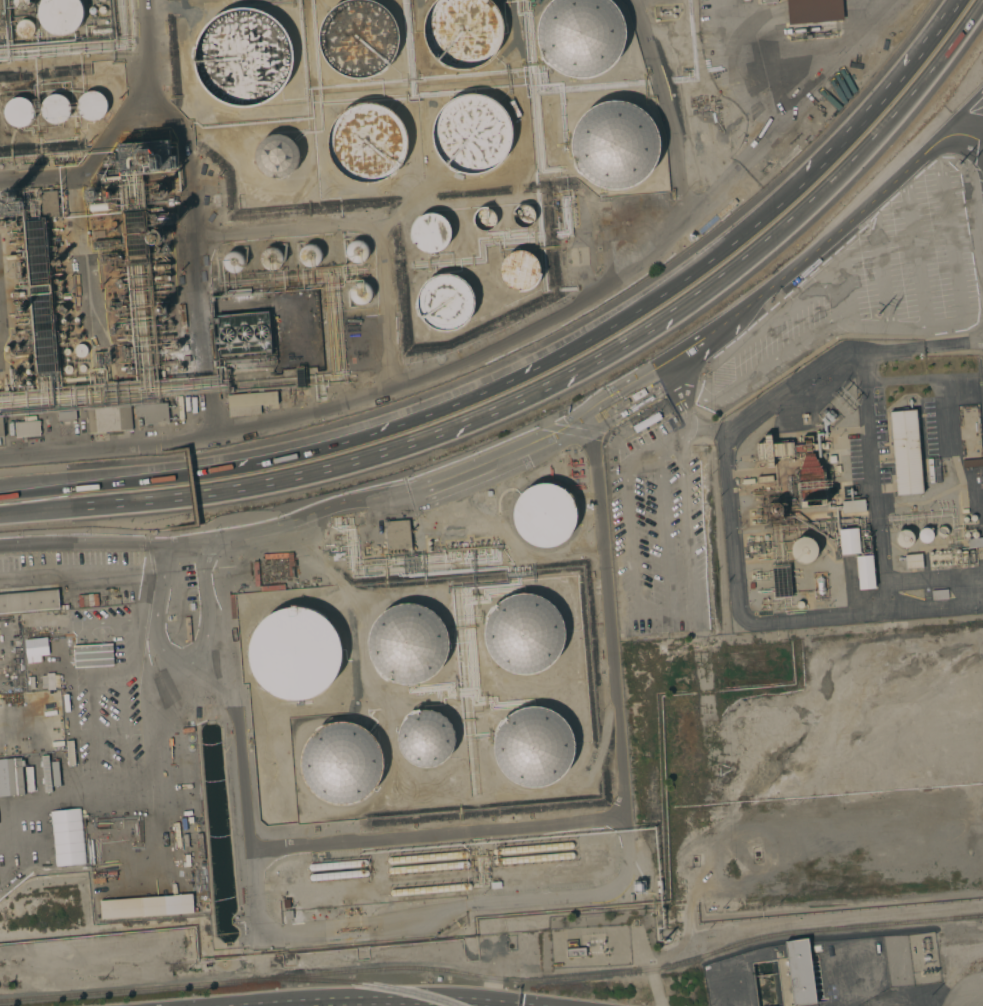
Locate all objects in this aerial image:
building: (101, 0)
building: (767, 1)
building: (21, 3)
storage tank: (21, 3)
building: (101, 9)
storage tank: (101, 9)
building: (92, 10)
storage tank: (92, 10)
building: (813, 11)
building: (60, 15)
storage tank: (60, 15)
building: (24, 28)
storage tank: (24, 28)
building: (101, 30)
building: (462, 32)
storage tank: (462, 32)
building: (580, 36)
storage tank: (580, 36)
building: (358, 38)
storage tank: (358, 38)
building: (242, 57)
storage tank: (242, 57)
building: (91, 105)
storage tank: (91, 105)
building: (55, 108)
storage tank: (55, 108)
road: (960, 111)
building: (18, 112)
storage tank: (18, 112)
building: (471, 134)
storage tank: (471, 134)
building: (367, 142)
storage tank: (367, 142)
building: (614, 145)
storage tank: (614, 145)
building: (276, 156)
storage tank: (276, 156)
building: (145, 157)
road: (842, 170)
building: (110, 178)
building: (158, 191)
building: (10, 194)
building: (90, 194)
road: (713, 194)
building: (106, 195)
building: (49, 203)
building: (103, 206)
building: (523, 216)
storage tank: (523, 216)
building: (484, 219)
storage tank: (484, 219)
building: (430, 232)
storage tank: (430, 232)
building: (135, 237)
building: (155, 238)
building: (357, 251)
storage tank: (357, 251)
building: (309, 255)
storage tank: (309, 255)
building: (13, 256)
building: (271, 258)
storage tank: (271, 258)
building: (233, 262)
storage tank: (233, 262)
building: (161, 267)
building: (520, 271)
storage tank: (520, 271)
road: (881, 275)
building: (238, 293)
building: (360, 293)
storage tank: (360, 293)
building: (17, 294)
building: (40, 296)
building: (444, 302)
storage tank: (444, 302)
building: (161, 309)
building: (21, 310)
road: (942, 324)
road: (863, 328)
road: (909, 329)
building: (243, 334)
road: (696, 342)
building: (7, 348)
road: (922, 348)
building: (80, 349)
building: (66, 351)
road: (540, 363)
building: (82, 368)
building: (126, 368)
building: (67, 369)
road: (710, 371)
building: (299, 376)
building: (637, 394)
building: (625, 402)
building: (250, 403)
road: (682, 403)
building: (152, 413)
building: (66, 415)
building: (109, 419)
building: (646, 422)
road: (255, 426)
building: (27, 427)
building: (1, 428)
road: (721, 434)
road: (946, 435)
road: (664, 449)
building: (765, 450)
building: (905, 451)
building: (832, 459)
road: (352, 463)
building: (972, 463)
building: (809, 479)
power plant: (855, 487)
building: (853, 505)
building: (774, 509)
building: (964, 511)
building: (544, 515)
storage tank: (544, 515)
building: (973, 518)
building: (965, 519)
building: (942, 531)
building: (397, 534)
building: (974, 534)
building: (925, 535)
building: (966, 535)
building: (904, 538)
road: (686, 539)
building: (849, 541)
building: (975, 542)
road: (189, 543)
building: (803, 550)
building: (957, 552)
building: (972, 555)
building: (964, 556)
building: (913, 561)
building: (865, 572)
road: (57, 576)
building: (781, 582)
building: (751, 585)
building: (820, 585)
building: (939, 594)
building: (29, 601)
building: (799, 605)
building: (65, 607)
road: (660, 615)
road: (769, 624)
building: (523, 633)
storage tank: (523, 633)
building: (407, 644)
storage tank: (407, 644)
building: (35, 649)
building: (294, 653)
storage tank: (294, 653)
road: (183, 659)
building: (425, 738)
storage tank: (425, 738)
building: (533, 747)
storage tank: (533, 747)
building: (341, 763)
storage tank: (341, 763)
building: (11, 777)
road: (533, 823)
building: (67, 838)
storage tank: (531, 848)
storage tank: (427, 857)
storage tank: (534, 858)
storage tank: (337, 864)
storage tank: (428, 867)
storage tank: (339, 875)
building: (659, 886)
storage tank: (430, 889)
building: (630, 897)
building: (286, 903)
building: (146, 907)
building: (288, 914)
railway: (980, 916)
road: (789, 924)
road: (641, 949)
building: (576, 952)
building: (800, 972)
railway: (616, 974)
railway: (352, 983)
railway: (122, 991)

